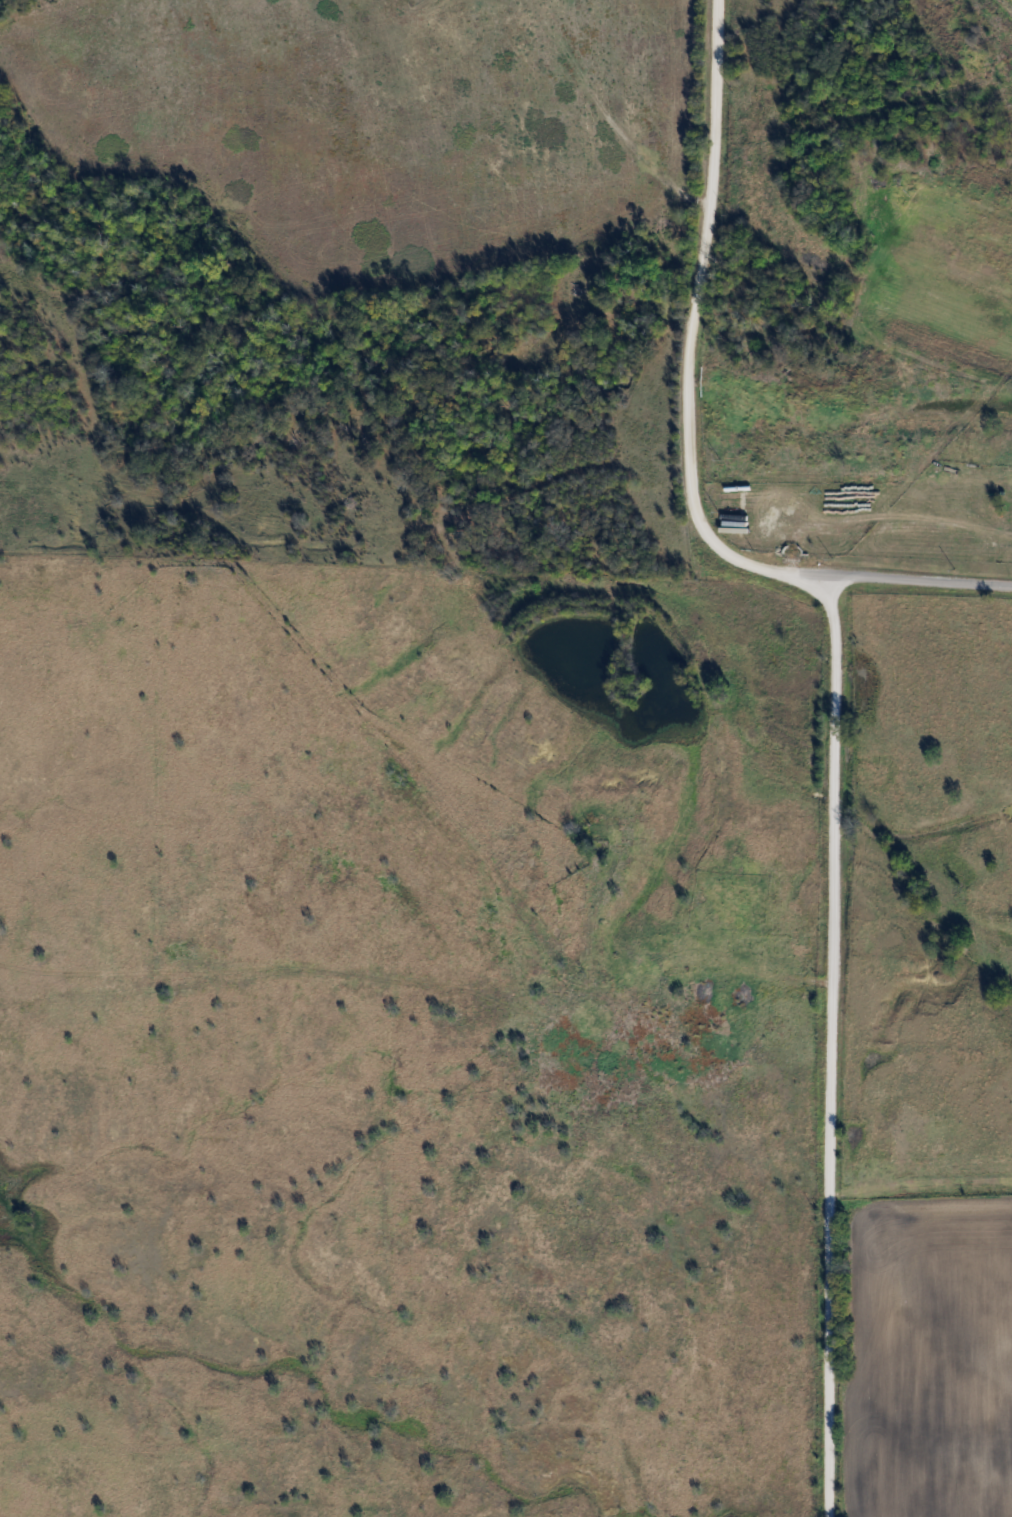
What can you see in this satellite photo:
road: (695, 327)
road: (910, 578)
road: (831, 1047)

